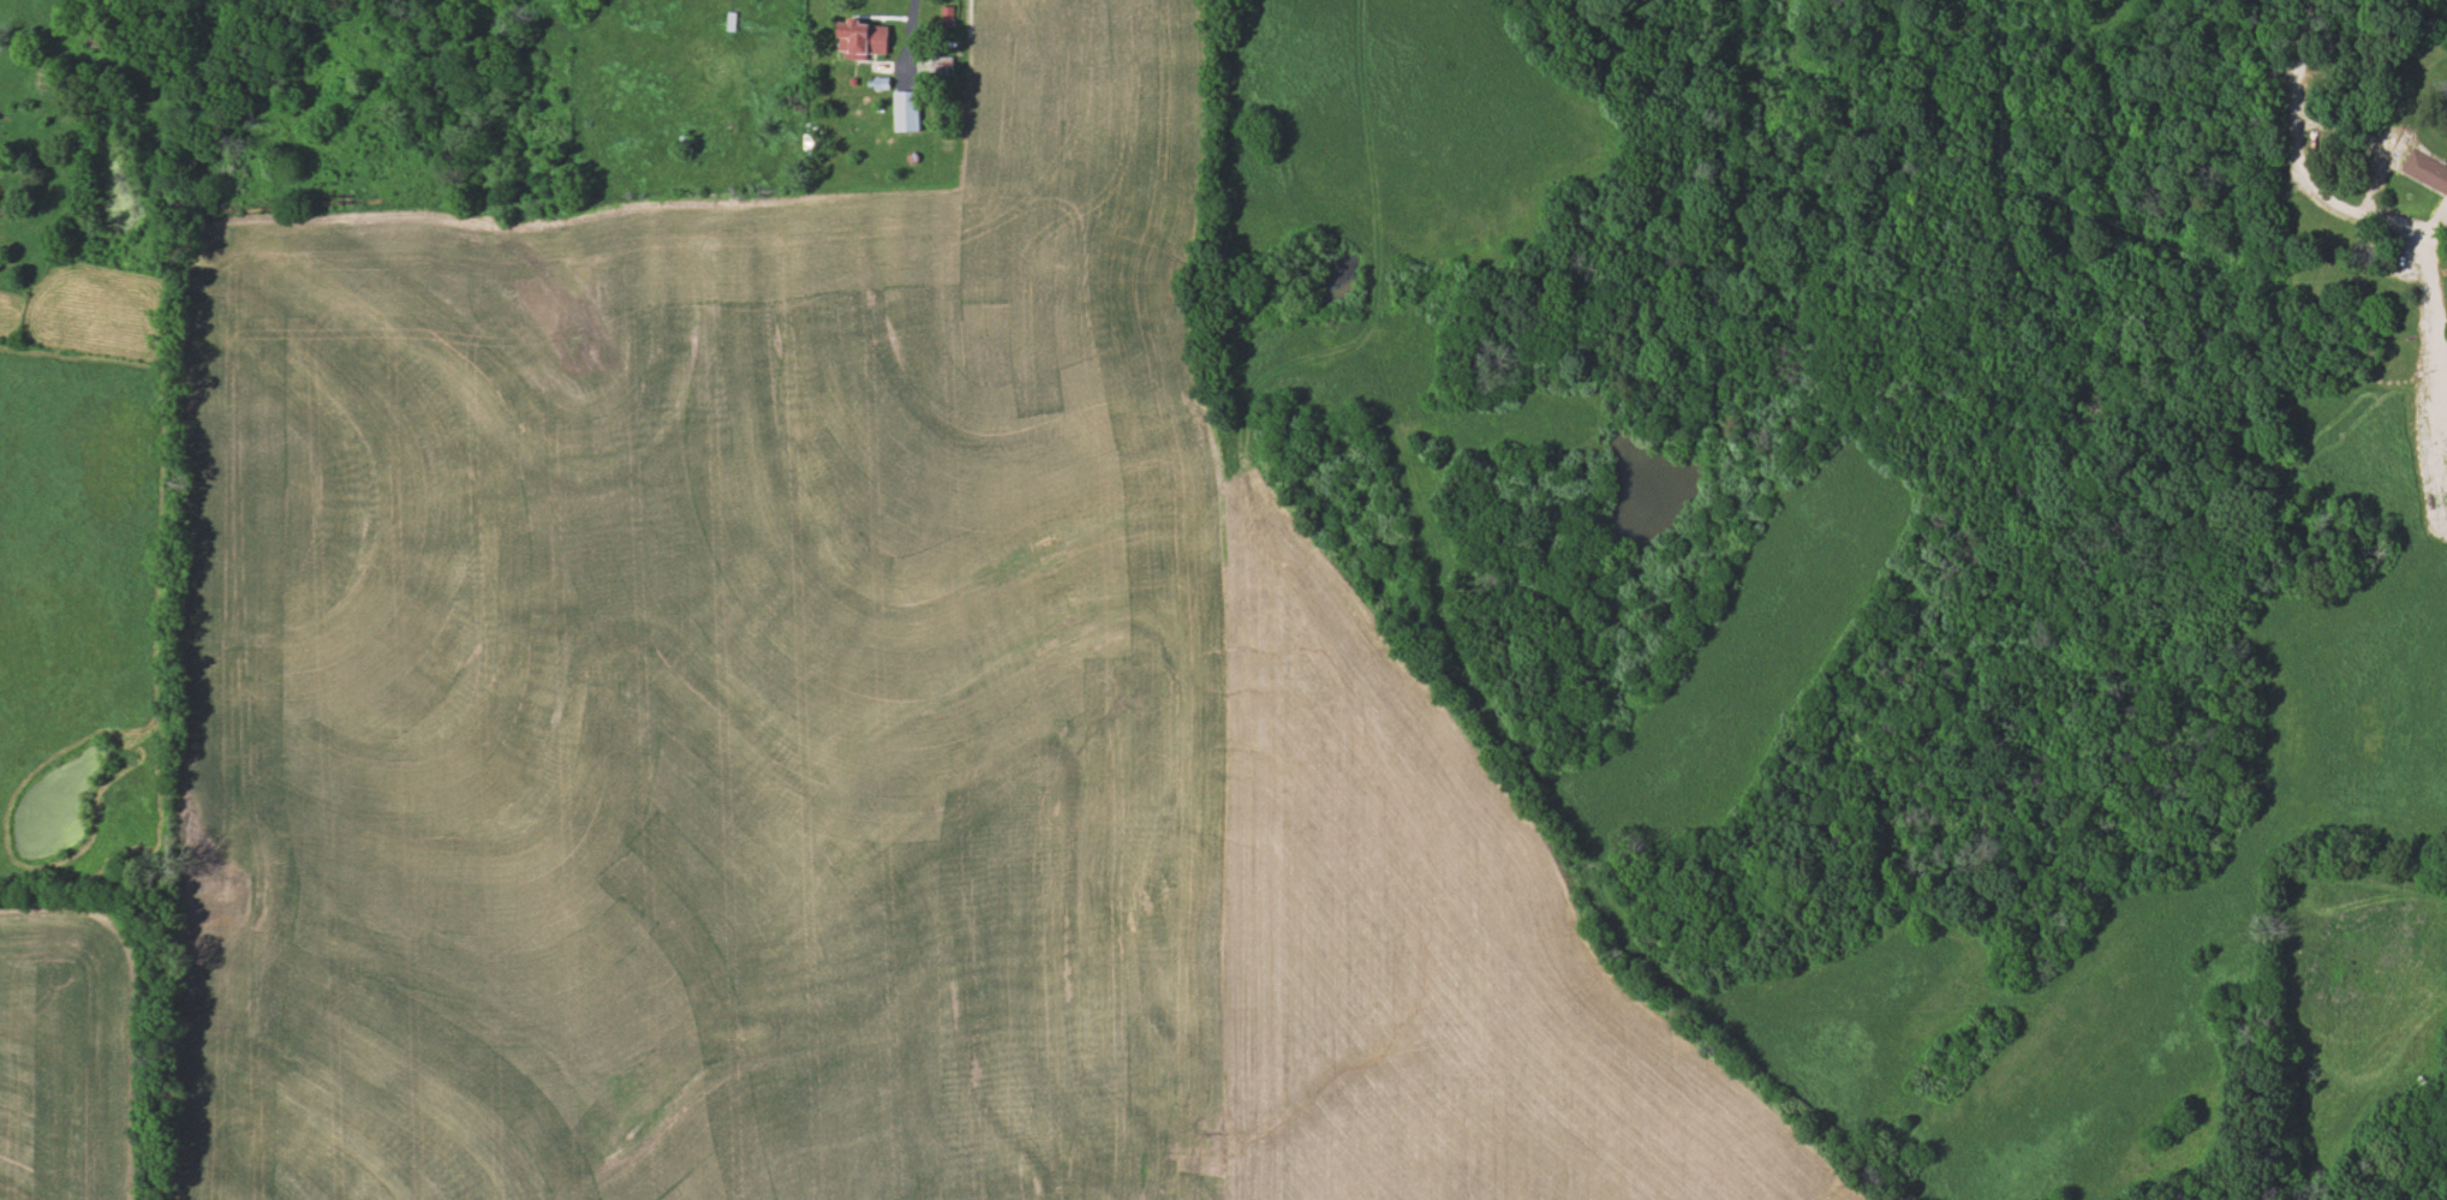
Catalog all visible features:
building: (858, 37)
road: (913, 37)
building: (938, 64)
building: (7, 101)
building: (902, 111)
building: (2424, 171)
building: (1, 213)
road: (2379, 215)

